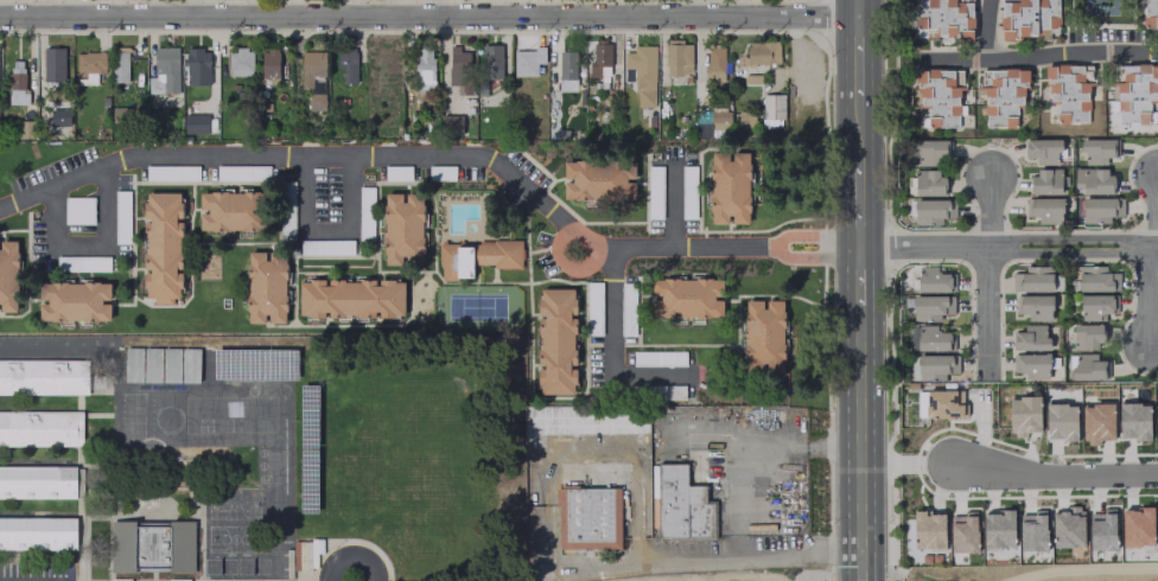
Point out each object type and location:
road: (696, 7)
road: (858, 7)
building: (1150, 13)
road: (428, 15)
building: (1027, 18)
building: (943, 19)
road: (987, 30)
building: (762, 52)
building: (677, 57)
road: (1037, 57)
building: (599, 58)
building: (490, 60)
building: (527, 60)
building: (240, 62)
building: (53, 63)
building: (714, 63)
building: (89, 64)
building: (119, 64)
building: (197, 65)
building: (269, 65)
building: (346, 66)
building: (424, 68)
building: (459, 69)
road: (858, 69)
building: (164, 70)
building: (566, 70)
building: (642, 72)
building: (313, 77)
building: (17, 83)
building: (1069, 89)
building: (1135, 94)
building: (1003, 96)
building: (937, 98)
building: (772, 106)
building: (59, 116)
building: (719, 120)
building: (746, 121)
building: (195, 123)
building: (451, 123)
building: (1096, 149)
building: (1042, 151)
building: (929, 152)
road: (396, 155)
parking lot: (526, 167)
building: (171, 172)
building: (242, 172)
building: (396, 172)
building: (440, 172)
building: (599, 179)
building: (1093, 180)
building: (928, 181)
building: (1044, 181)
building: (688, 185)
road: (858, 186)
building: (730, 187)
building: (654, 189)
parking lot: (673, 191)
parking lot: (510, 196)
parking lot: (72, 197)
road: (676, 199)
building: (286, 202)
building: (364, 203)
building: (1044, 209)
building: (1100, 209)
building: (78, 210)
building: (933, 210)
building: (234, 211)
building: (403, 230)
road: (329, 231)
road: (812, 235)
road: (90, 243)
building: (163, 244)
building: (325, 245)
road: (1007, 247)
building: (484, 254)
building: (507, 254)
parking lot: (543, 254)
road: (813, 256)
building: (456, 261)
building: (88, 262)
road: (990, 273)
building: (8, 276)
building: (1036, 279)
building: (1096, 279)
building: (934, 280)
road: (859, 281)
building: (267, 288)
building: (351, 298)
building: (687, 299)
road: (1151, 300)
building: (75, 301)
building: (593, 304)
building: (930, 306)
building: (1033, 306)
building: (1095, 306)
park: (476, 307)
building: (764, 334)
building: (1086, 337)
building: (928, 338)
building: (1030, 338)
building: (558, 341)
road: (613, 352)
parking lot: (629, 353)
building: (658, 358)
building: (132, 364)
building: (1031, 365)
building: (935, 366)
building: (1086, 366)
building: (43, 376)
building: (920, 403)
building: (943, 403)
building: (1023, 414)
building: (1133, 419)
building: (1060, 420)
building: (1096, 421)
building: (1156, 421)
building: (40, 427)
building: (641, 435)
road: (859, 447)
road: (621, 453)
road: (747, 453)
road: (1060, 473)
building: (40, 481)
building: (681, 504)
building: (588, 517)
building: (1137, 525)
building: (998, 528)
building: (928, 529)
building: (1067, 529)
building: (1102, 531)
building: (37, 532)
building: (1032, 532)
building: (963, 535)
building: (151, 545)
road: (351, 551)
road: (674, 564)
building: (120, 580)
building: (178, 580)

